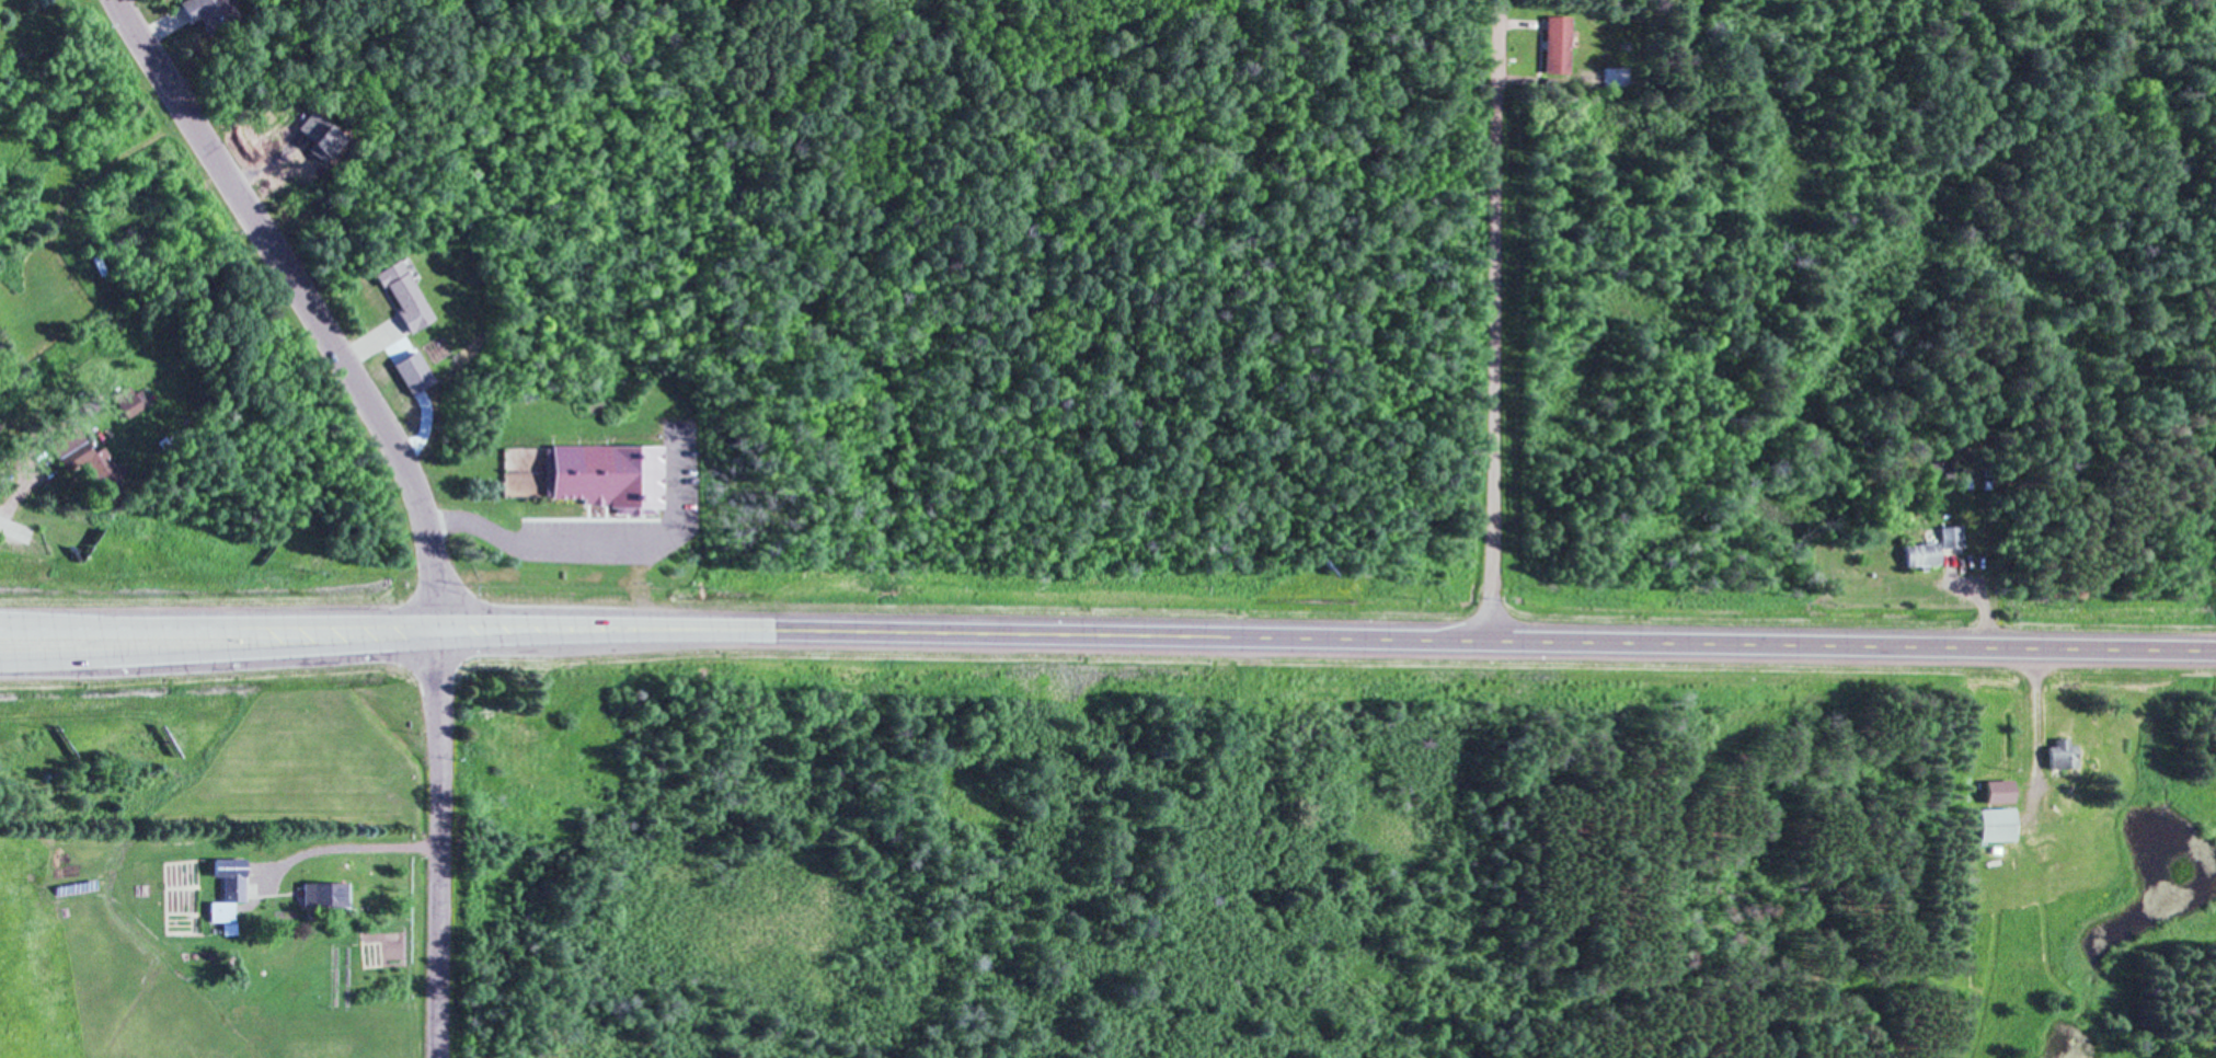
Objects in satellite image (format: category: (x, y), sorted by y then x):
building: (206, 11)
building: (1557, 44)
building: (1617, 76)
building: (271, 159)
building: (287, 179)
building: (407, 297)
road: (306, 298)
road: (1494, 319)
building: (128, 404)
building: (73, 453)
building: (1939, 469)
building: (609, 475)
road: (19, 490)
road: (15, 531)
building: (1931, 548)
road: (602, 549)
road: (611, 617)
road: (241, 622)
road: (21, 623)
road: (611, 635)
road: (1499, 640)
road: (219, 654)
building: (2059, 754)
building: (2000, 790)
building: (1995, 824)
road: (437, 837)
building: (229, 876)
building: (324, 893)
building: (220, 910)
crop: (141, 975)

